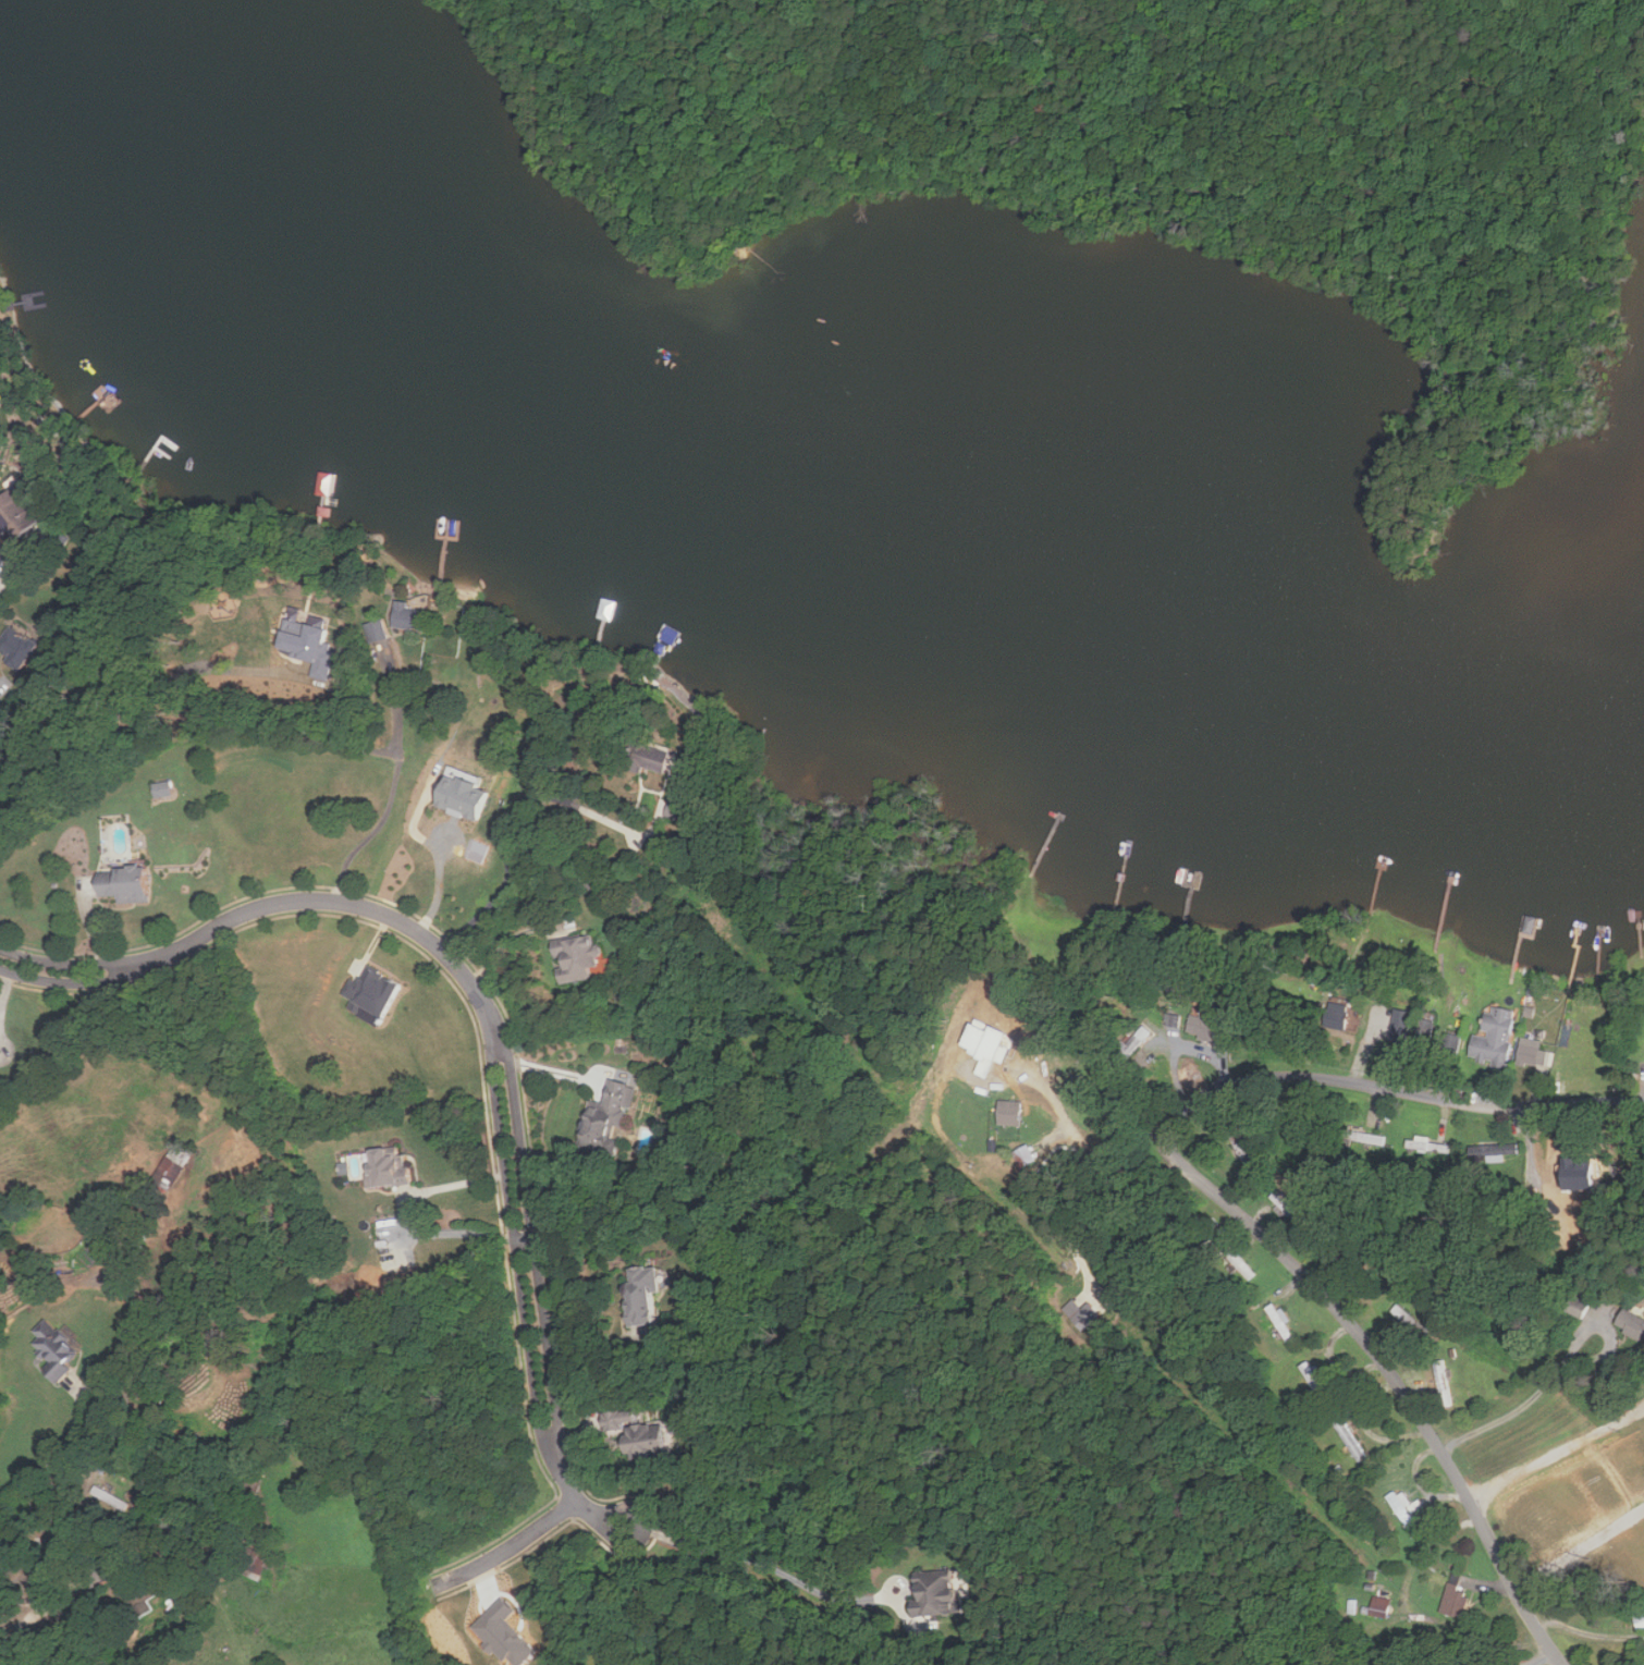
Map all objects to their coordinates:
road: (1303, 73)
building: (0, 442)
building: (22, 511)
road: (3, 586)
building: (412, 616)
building: (308, 640)
building: (22, 646)
road: (130, 708)
building: (665, 759)
building: (167, 788)
road: (388, 791)
building: (470, 797)
building: (678, 807)
road: (507, 829)
road: (404, 852)
building: (131, 884)
road: (508, 943)
building: (579, 956)
road: (1071, 988)
building: (377, 994)
road: (488, 1017)
building: (1403, 1025)
building: (1206, 1026)
building: (1498, 1037)
building: (1424, 1040)
building: (1534, 1052)
road: (551, 1069)
road: (1134, 1092)
building: (1014, 1112)
building: (609, 1117)
road: (1081, 1135)
building: (395, 1170)
road: (1220, 1198)
road: (413, 1217)
building: (646, 1296)
building: (1573, 1305)
building: (1073, 1311)
building: (1283, 1322)
building: (1628, 1325)
building: (59, 1349)
road: (1559, 1368)
building: (1314, 1381)
building: (646, 1435)
road: (1551, 1446)
road: (59, 1448)
building: (1403, 1505)
building: (673, 1541)
road: (511, 1544)
road: (761, 1560)
building: (1452, 1578)
building: (935, 1594)
road: (614, 1597)
building: (1452, 1602)
building: (1373, 1606)
building: (510, 1633)
road: (1588, 1633)
road: (13, 1641)

